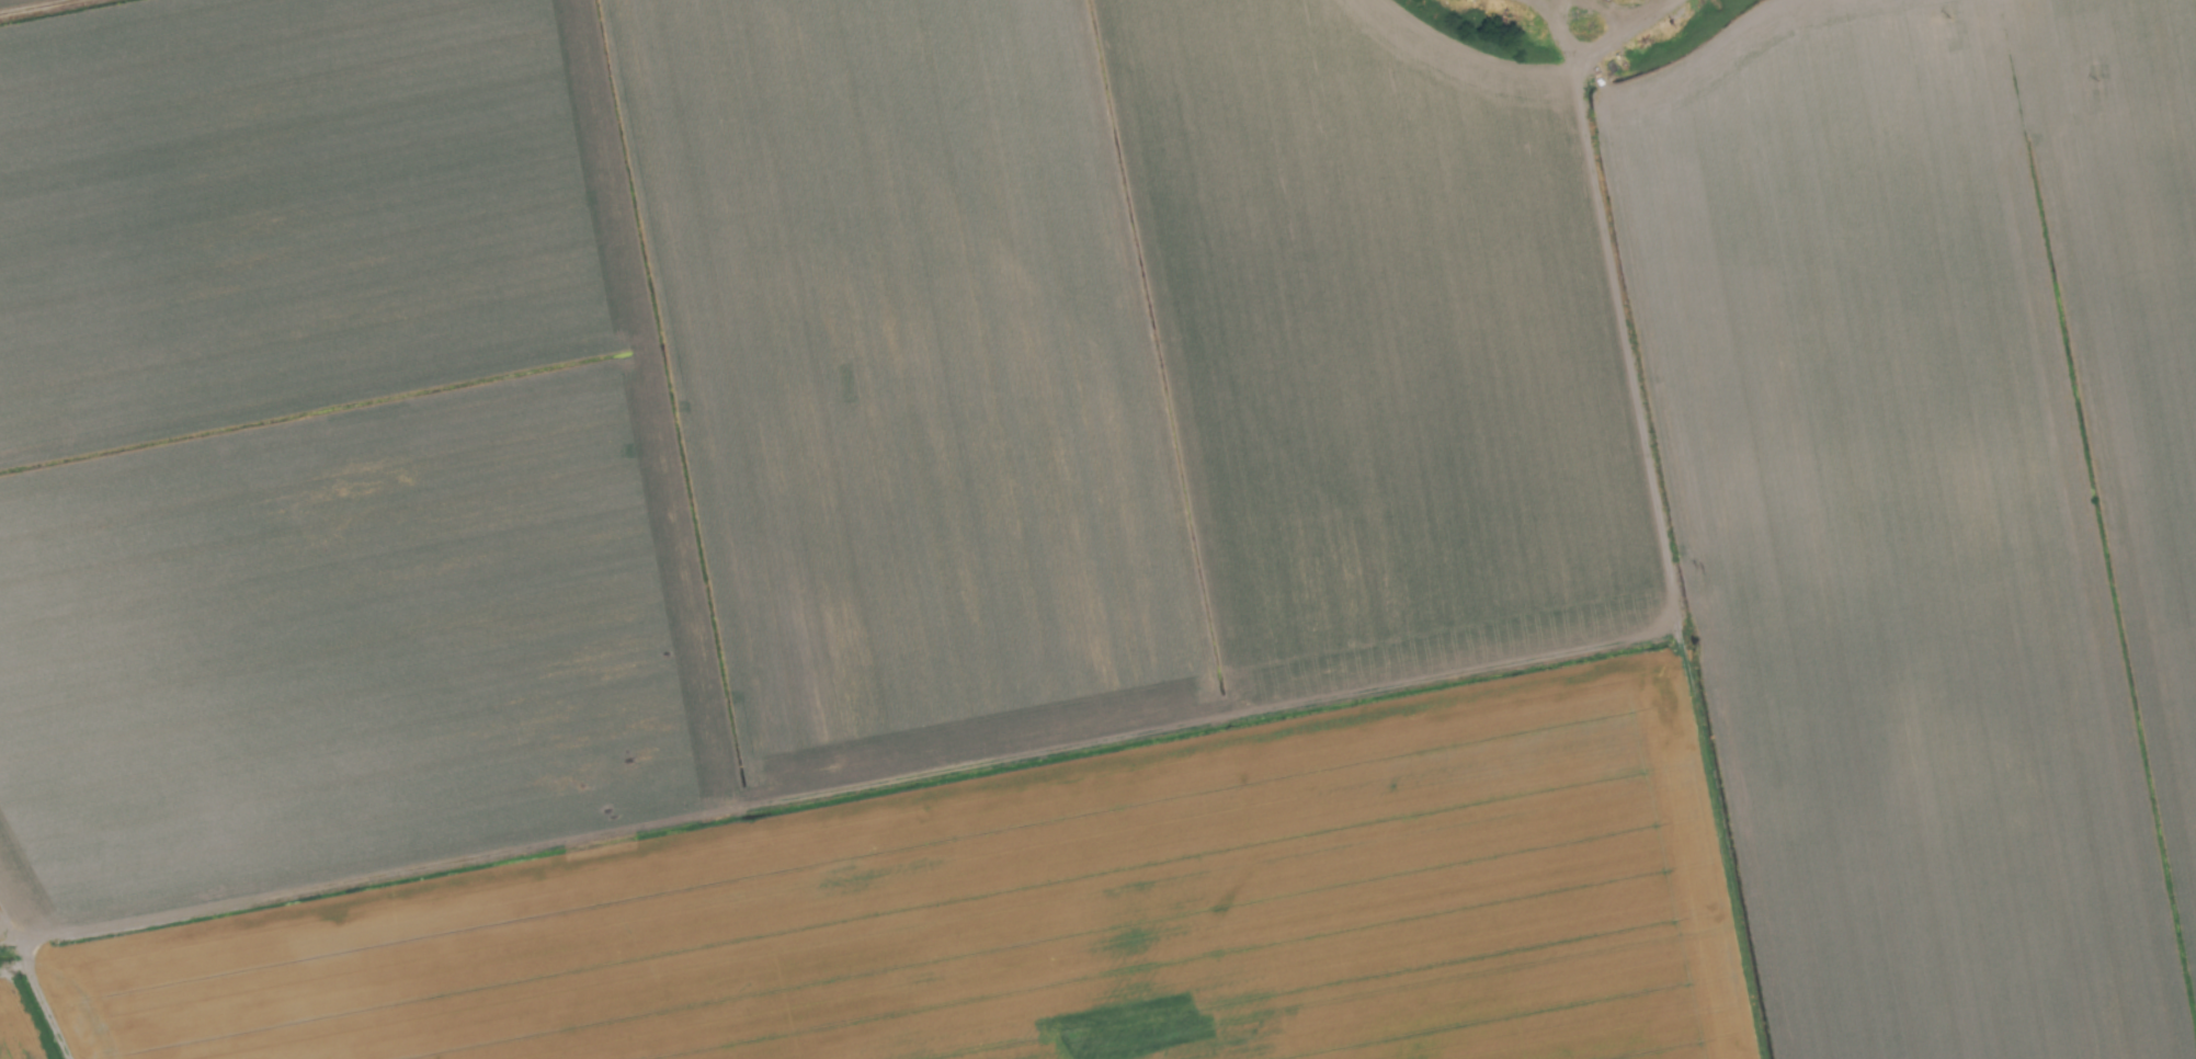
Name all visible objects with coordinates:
crop: (1097, 529)

